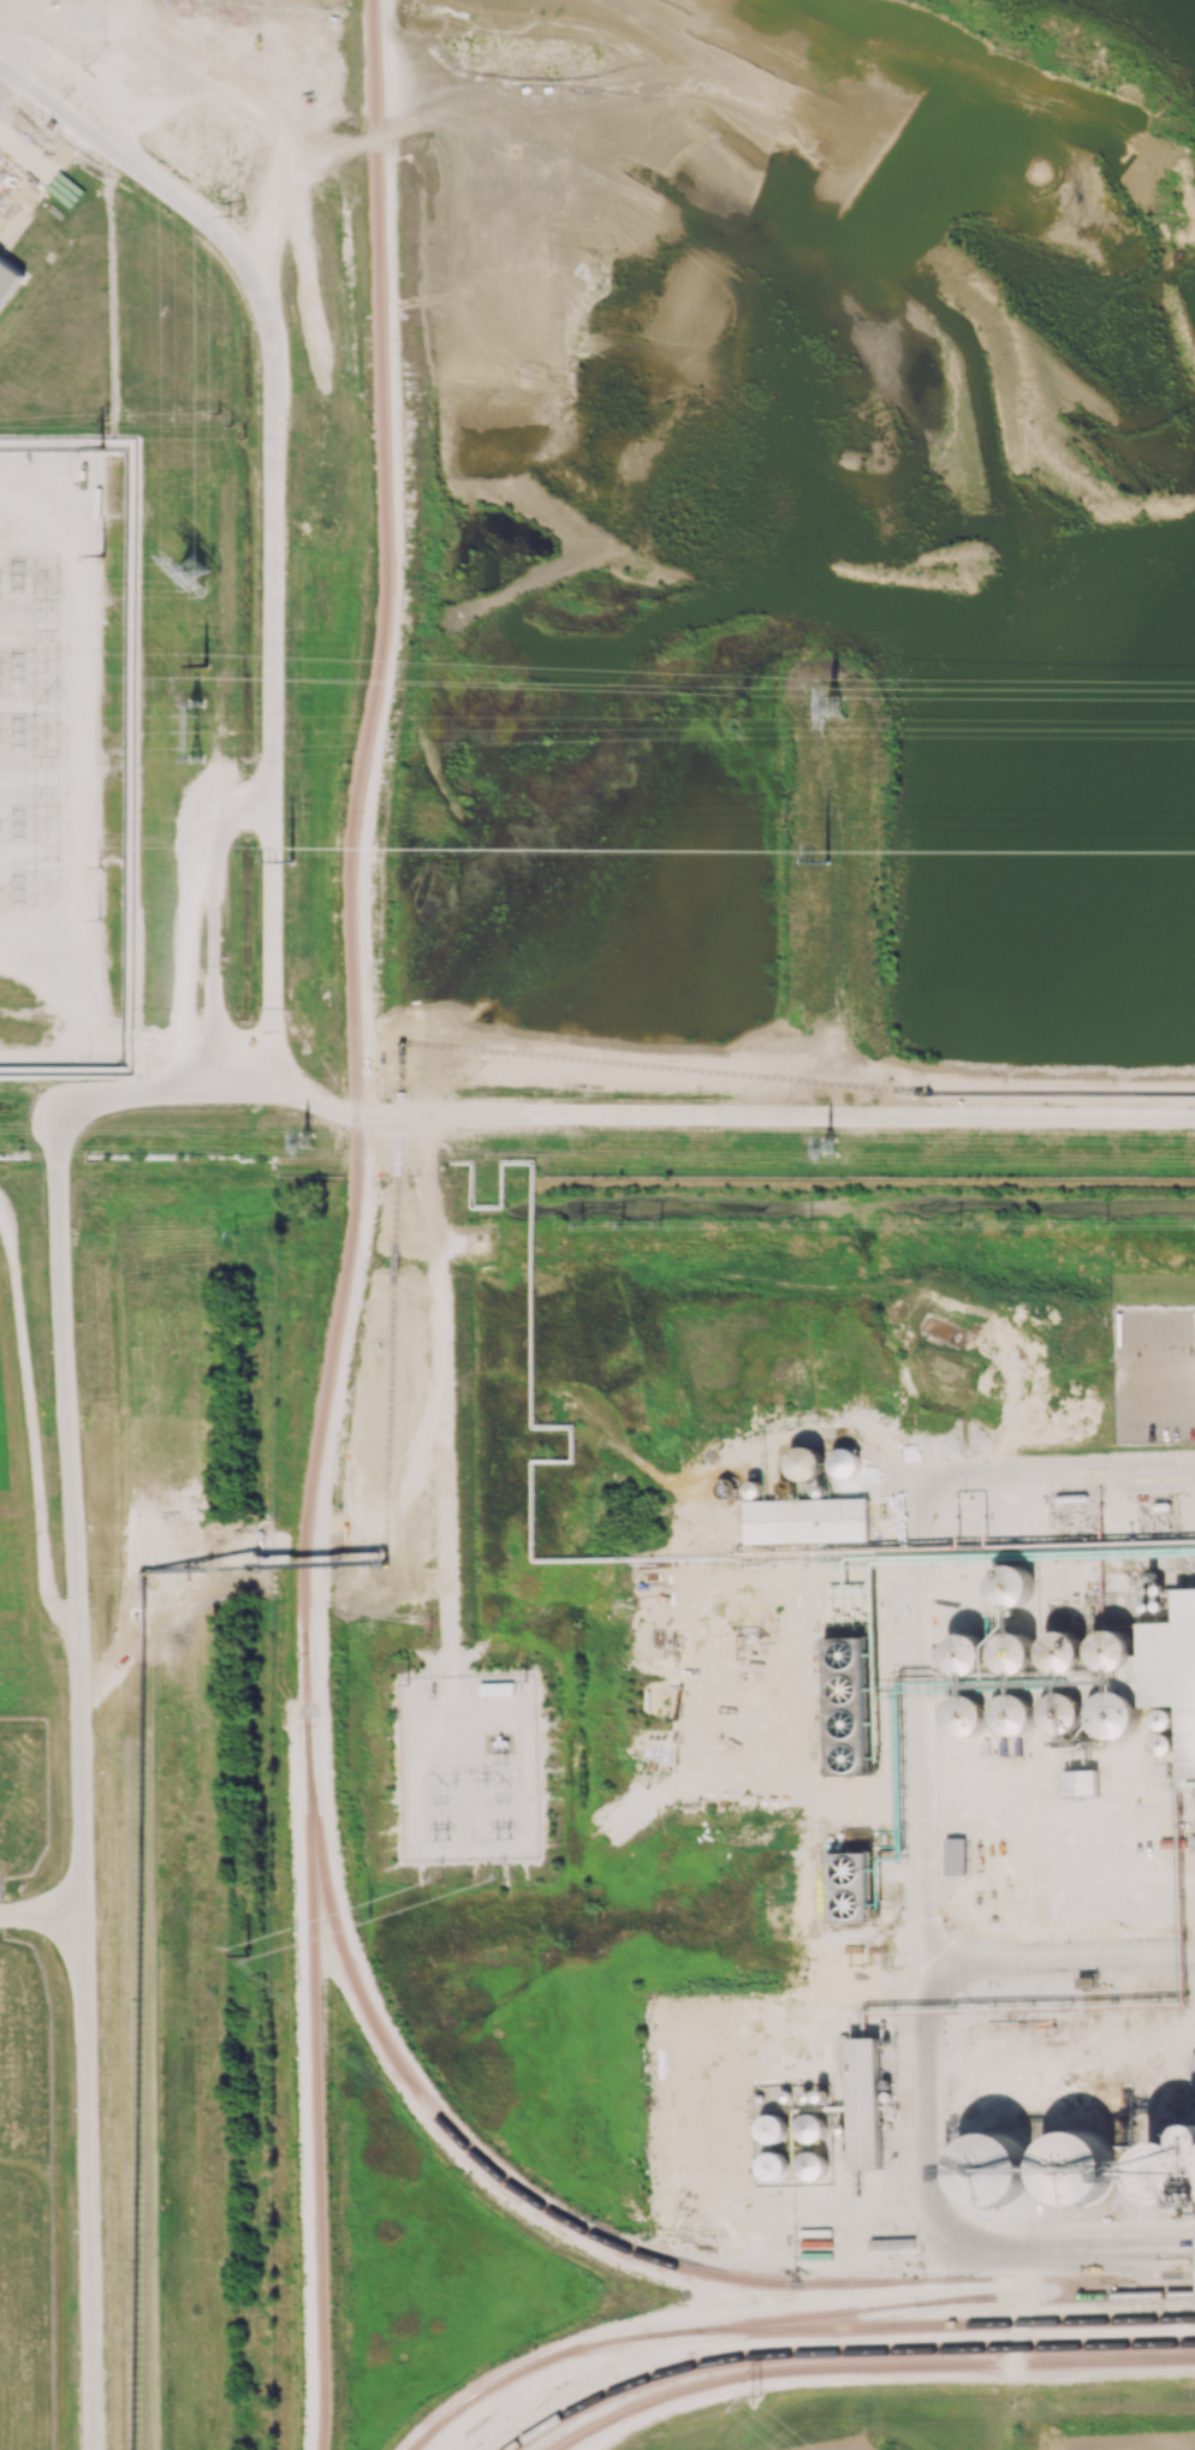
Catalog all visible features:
road: (5, 71)
road: (29, 81)
power tower: (231, 218)
road: (136, 424)
power tower: (109, 426)
power tower: (231, 427)
power tower: (103, 448)
power tower: (103, 558)
power plant: (172, 575)
power tower: (194, 576)
power tower: (204, 665)
power substation: (67, 702)
power tower: (821, 710)
power tower: (202, 731)
power tower: (298, 863)
power tower: (834, 863)
road: (275, 1004)
power tower: (314, 1150)
power tower: (816, 1150)
railway: (351, 1225)
building: (805, 1462)
storage tank: (805, 1462)
building: (844, 1462)
storage tank: (844, 1462)
building: (754, 1488)
storage tank: (754, 1488)
building: (820, 1489)
storage tank: (820, 1489)
building: (805, 1522)
building: (1013, 1584)
storage tank: (1013, 1584)
building: (1064, 1651)
storage tank: (1064, 1651)
building: (1015, 1652)
storage tank: (1015, 1652)
building: (965, 1654)
storage tank: (965, 1654)
road: (73, 1664)
building: (1172, 1678)
building: (844, 1708)
building: (1065, 1712)
storage tank: (1065, 1712)
building: (1016, 1713)
storage tank: (1016, 1713)
building: (968, 1714)
storage tank: (968, 1714)
building: (1116, 1715)
storage tank: (1116, 1715)
power substation: (470, 1767)
power tower: (504, 1836)
power tower: (441, 1838)
power tower: (505, 1875)
power tower: (442, 1878)
building: (849, 1886)
road: (41, 1907)
power tower: (368, 1908)
power tower: (370, 1916)
power tower: (248, 1956)
building: (785, 2094)
building: (820, 2094)
building: (807, 2095)
building: (759, 2097)
wastewater plant: (25, 2121)
building: (811, 2127)
building: (772, 2128)
building: (844, 2128)
building: (813, 2164)
building: (773, 2165)
building: (1075, 2165)
building: (993, 2167)
building: (1172, 2171)
railway: (579, 2229)
road: (1106, 2241)
railway: (1059, 2299)
railway: (789, 2319)
railway: (933, 2326)
railway: (843, 2354)
railway: (868, 2369)
power tower: (757, 2401)

